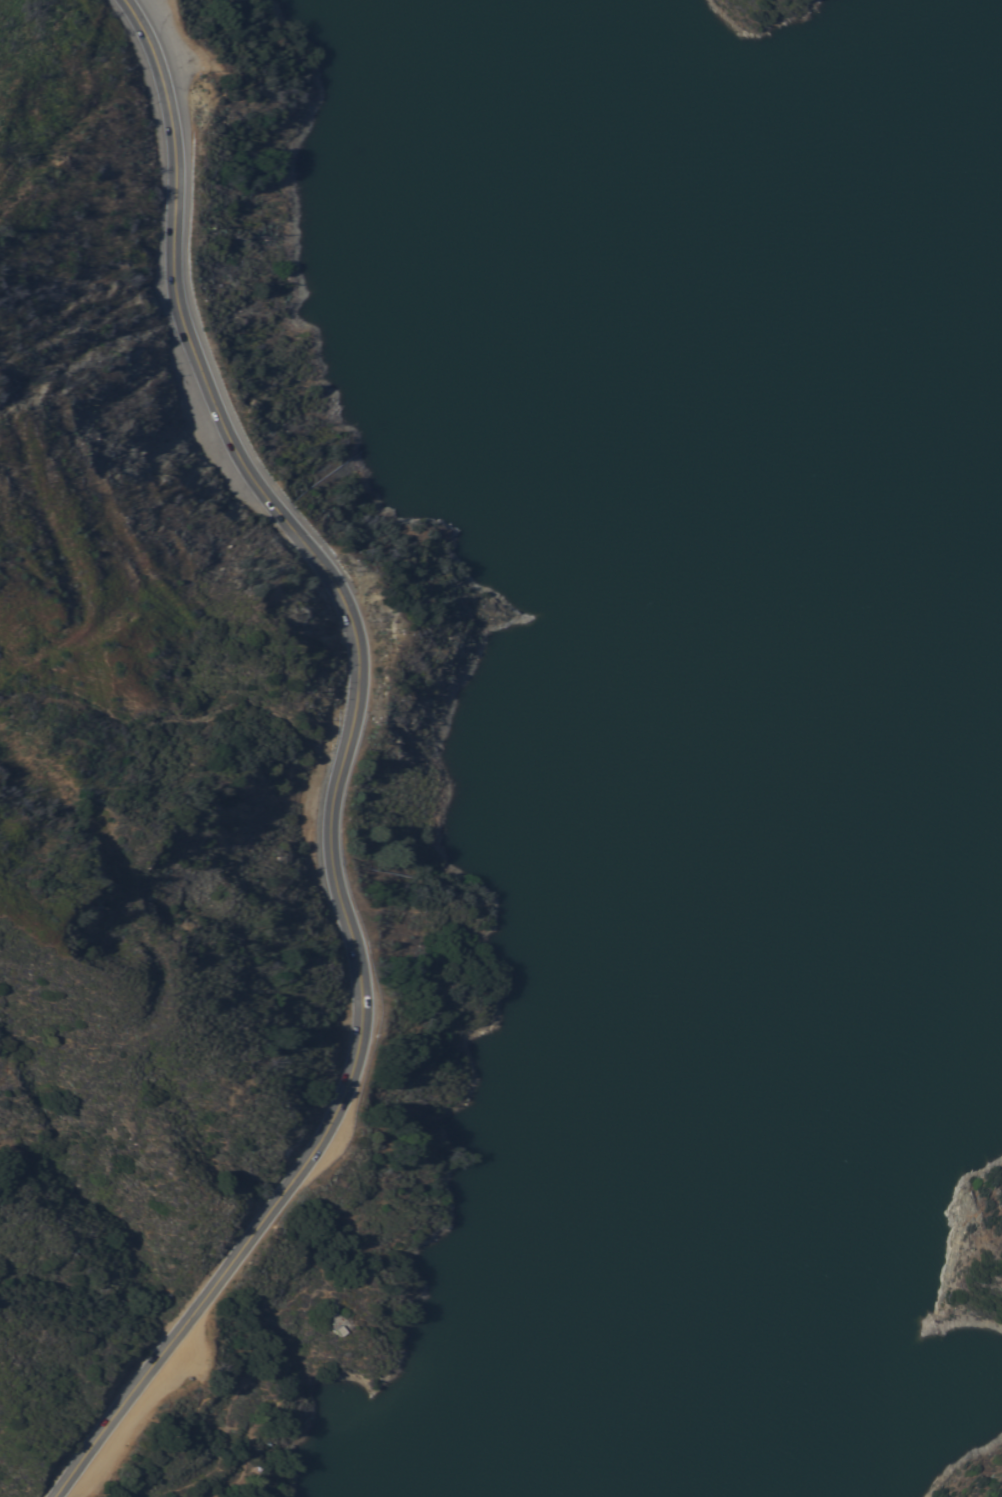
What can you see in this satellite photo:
parking lot: (184, 43)
river: (808, 95)
river: (634, 98)
road: (336, 768)
river: (823, 790)
river: (673, 1330)
parking lot: (146, 1405)

